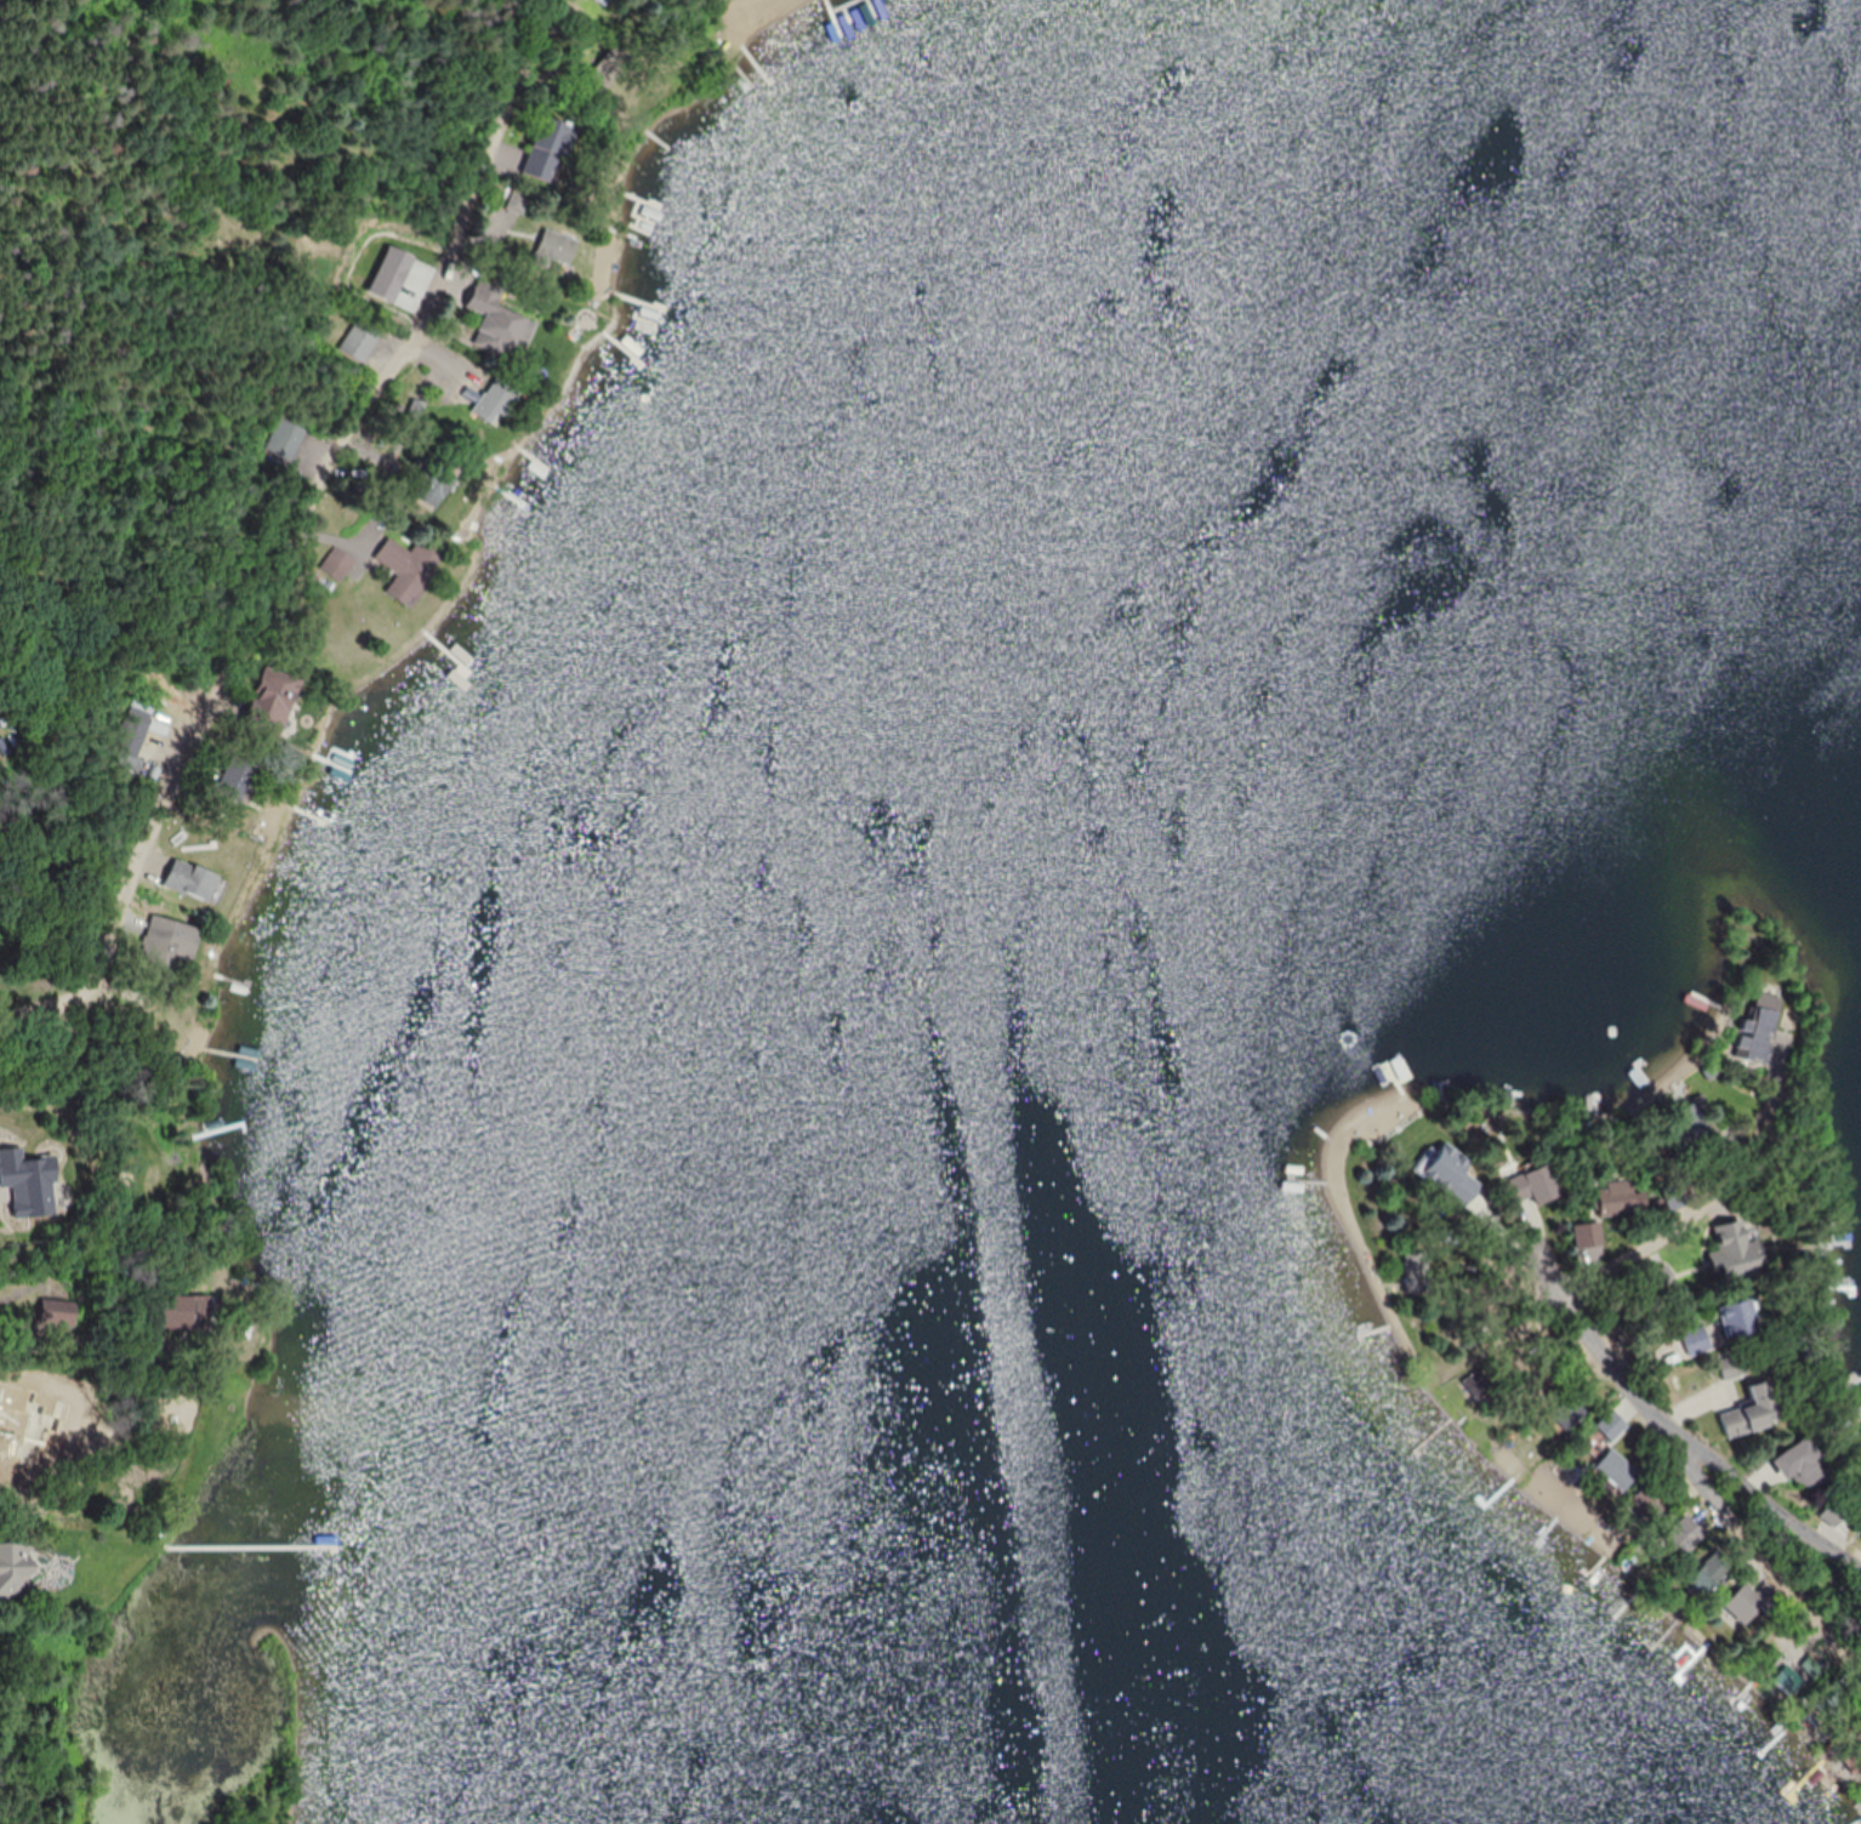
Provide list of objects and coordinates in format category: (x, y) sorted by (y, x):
road: (738, 17)
building: (545, 147)
building: (554, 246)
building: (496, 319)
building: (364, 338)
building: (495, 399)
road: (298, 546)
building: (406, 560)
building: (272, 703)
building: (238, 777)
building: (184, 876)
building: (1764, 999)
building: (1688, 1134)
building: (1436, 1167)
building: (1541, 1185)
building: (1615, 1197)
building: (1590, 1232)
road: (1651, 1244)
building: (1738, 1248)
road: (1520, 1254)
building: (1415, 1271)
building: (58, 1312)
building: (183, 1312)
building: (1740, 1318)
building: (1697, 1340)
building: (1735, 1364)
building: (1476, 1384)
building: (1569, 1410)
building: (1754, 1412)
building: (1611, 1424)
building: (1803, 1464)
building: (1616, 1469)
road: (1688, 1470)
building: (25, 1492)
building: (1647, 1509)
building: (1834, 1514)
building: (1683, 1534)
building: (1711, 1572)
building: (13, 1573)
road: (1763, 1584)
building: (1753, 1601)
building: (1788, 1680)
building: (1851, 1761)

